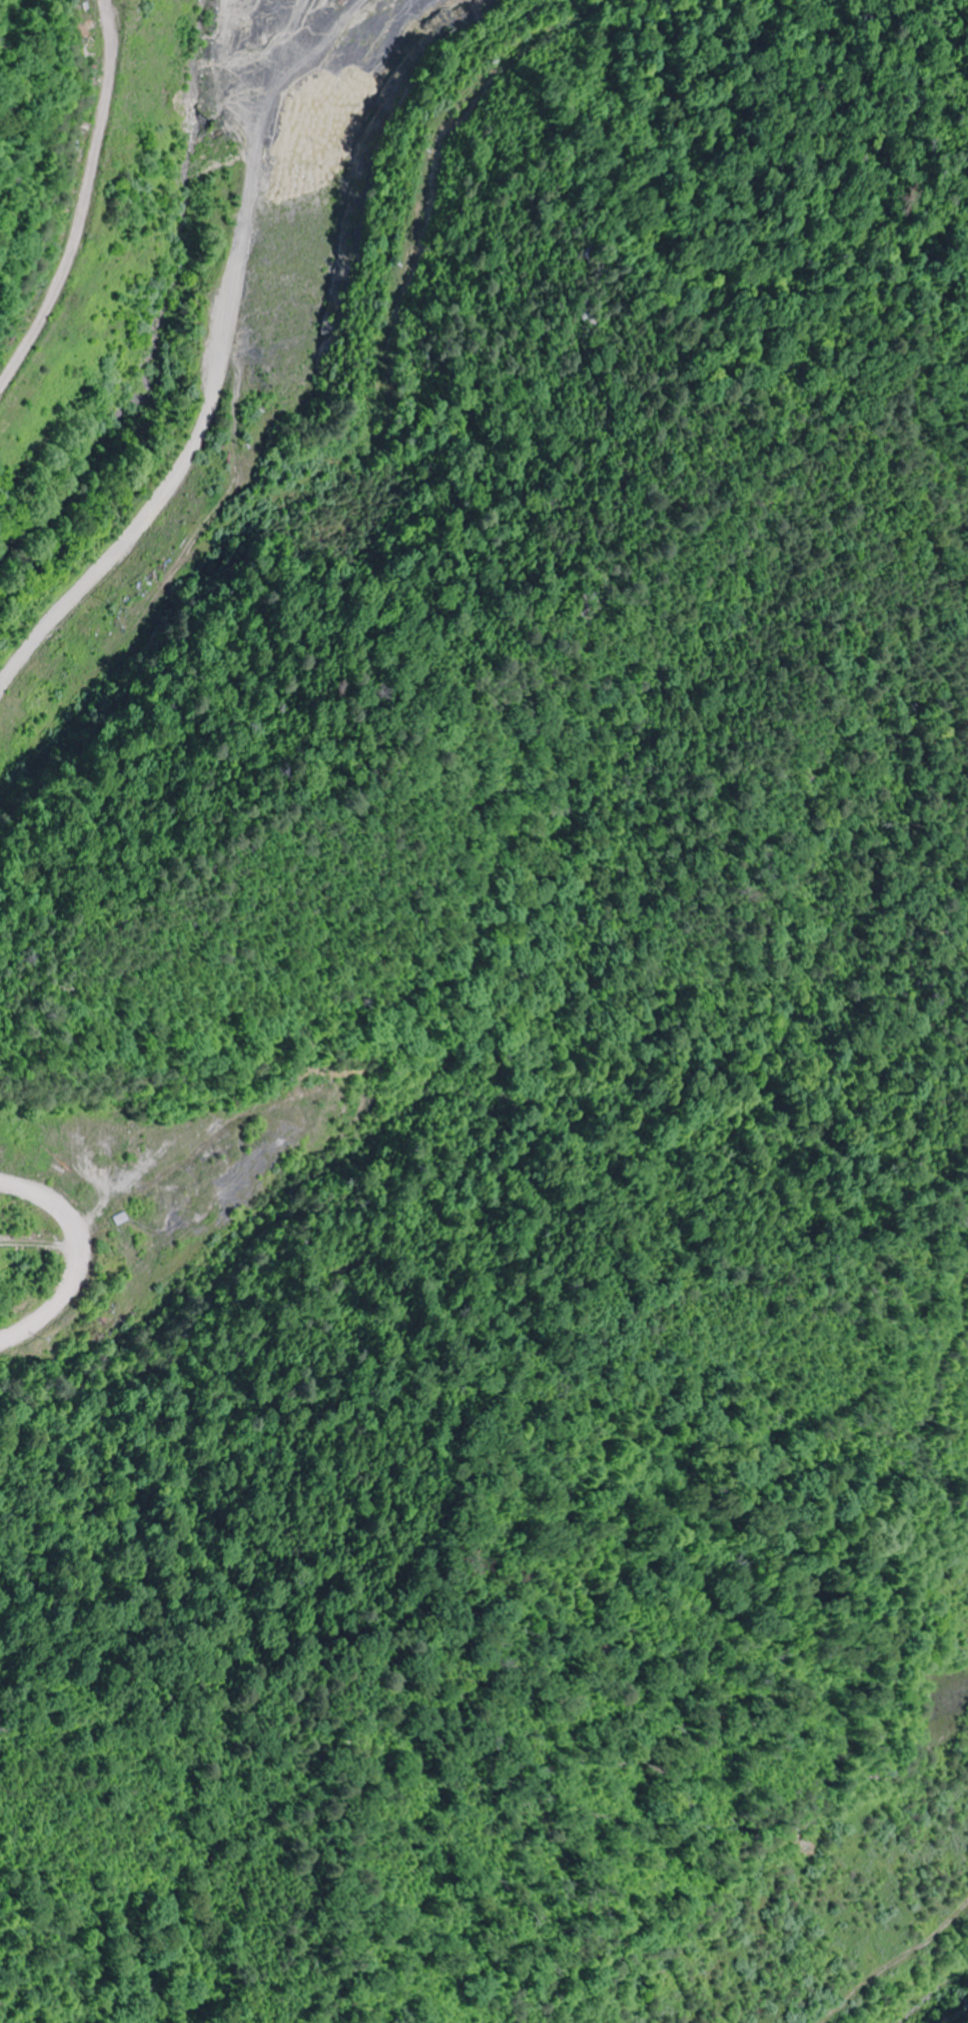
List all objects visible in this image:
quarry: (386, 704)
building: (202, 1215)

